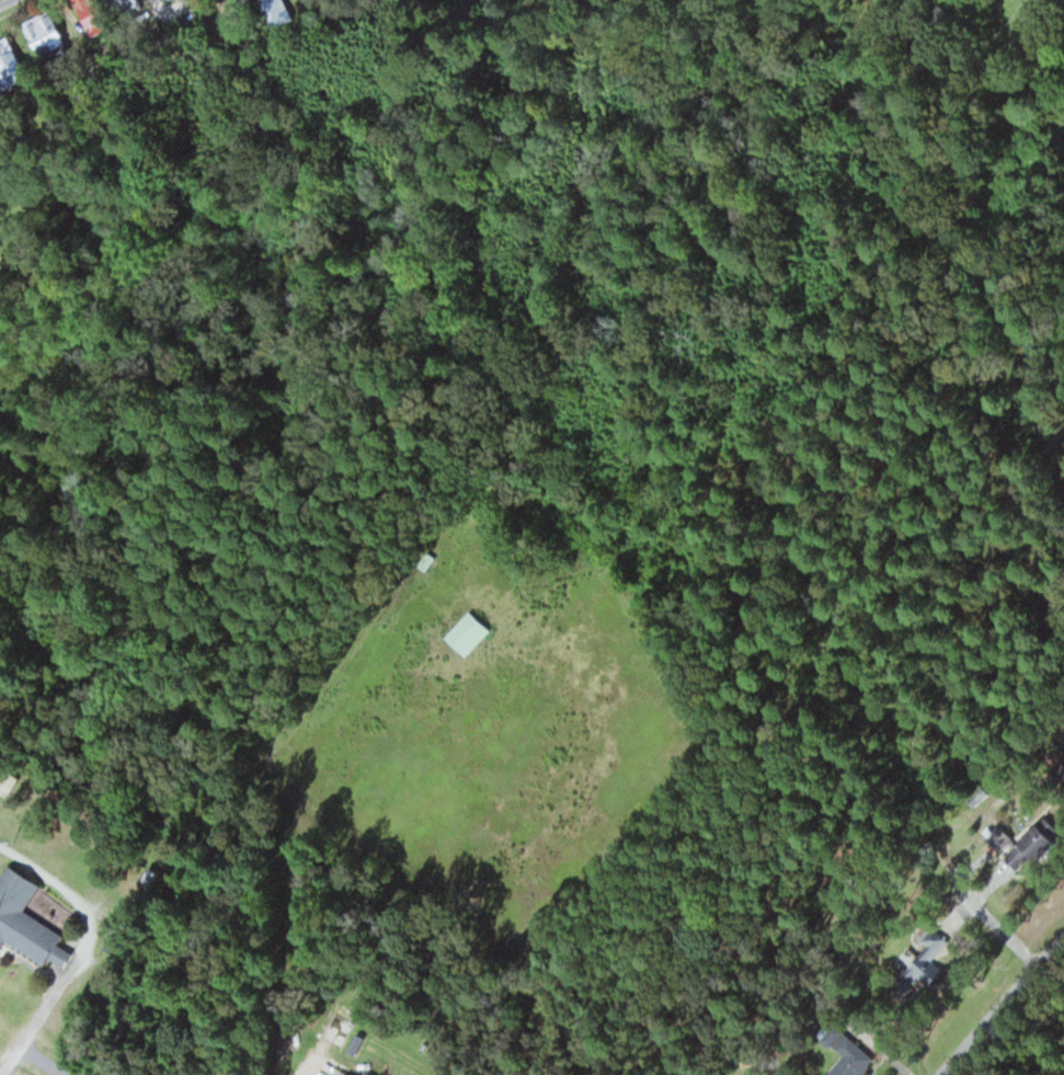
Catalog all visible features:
building: (121, 7)
building: (83, 9)
building: (272, 10)
building: (42, 34)
building: (8, 66)
road: (727, 436)
building: (422, 562)
building: (464, 633)
building: (7, 784)
building: (998, 834)
building: (1030, 840)
building: (24, 922)
building: (915, 967)
road: (1000, 1005)
road: (27, 1053)
building: (847, 1056)
building: (343, 1074)
building: (362, 1074)

